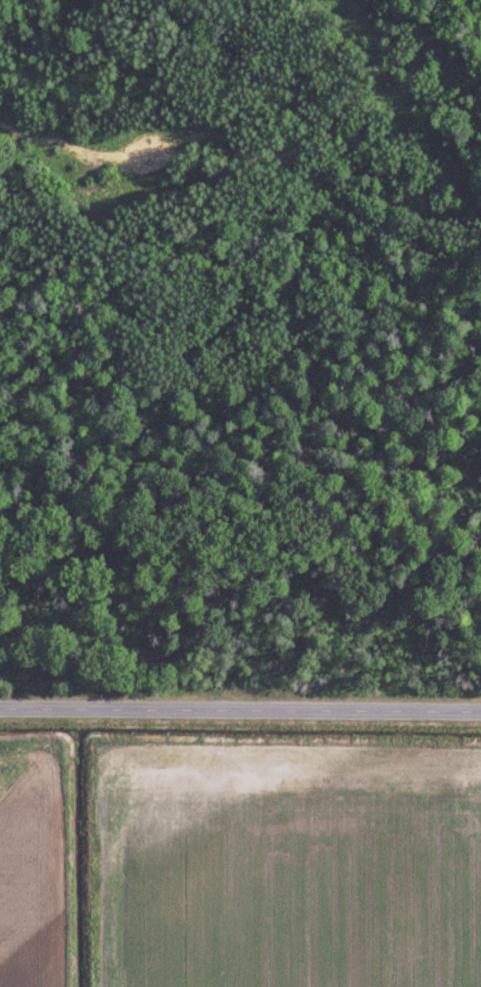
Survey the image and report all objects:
road: (240, 708)

